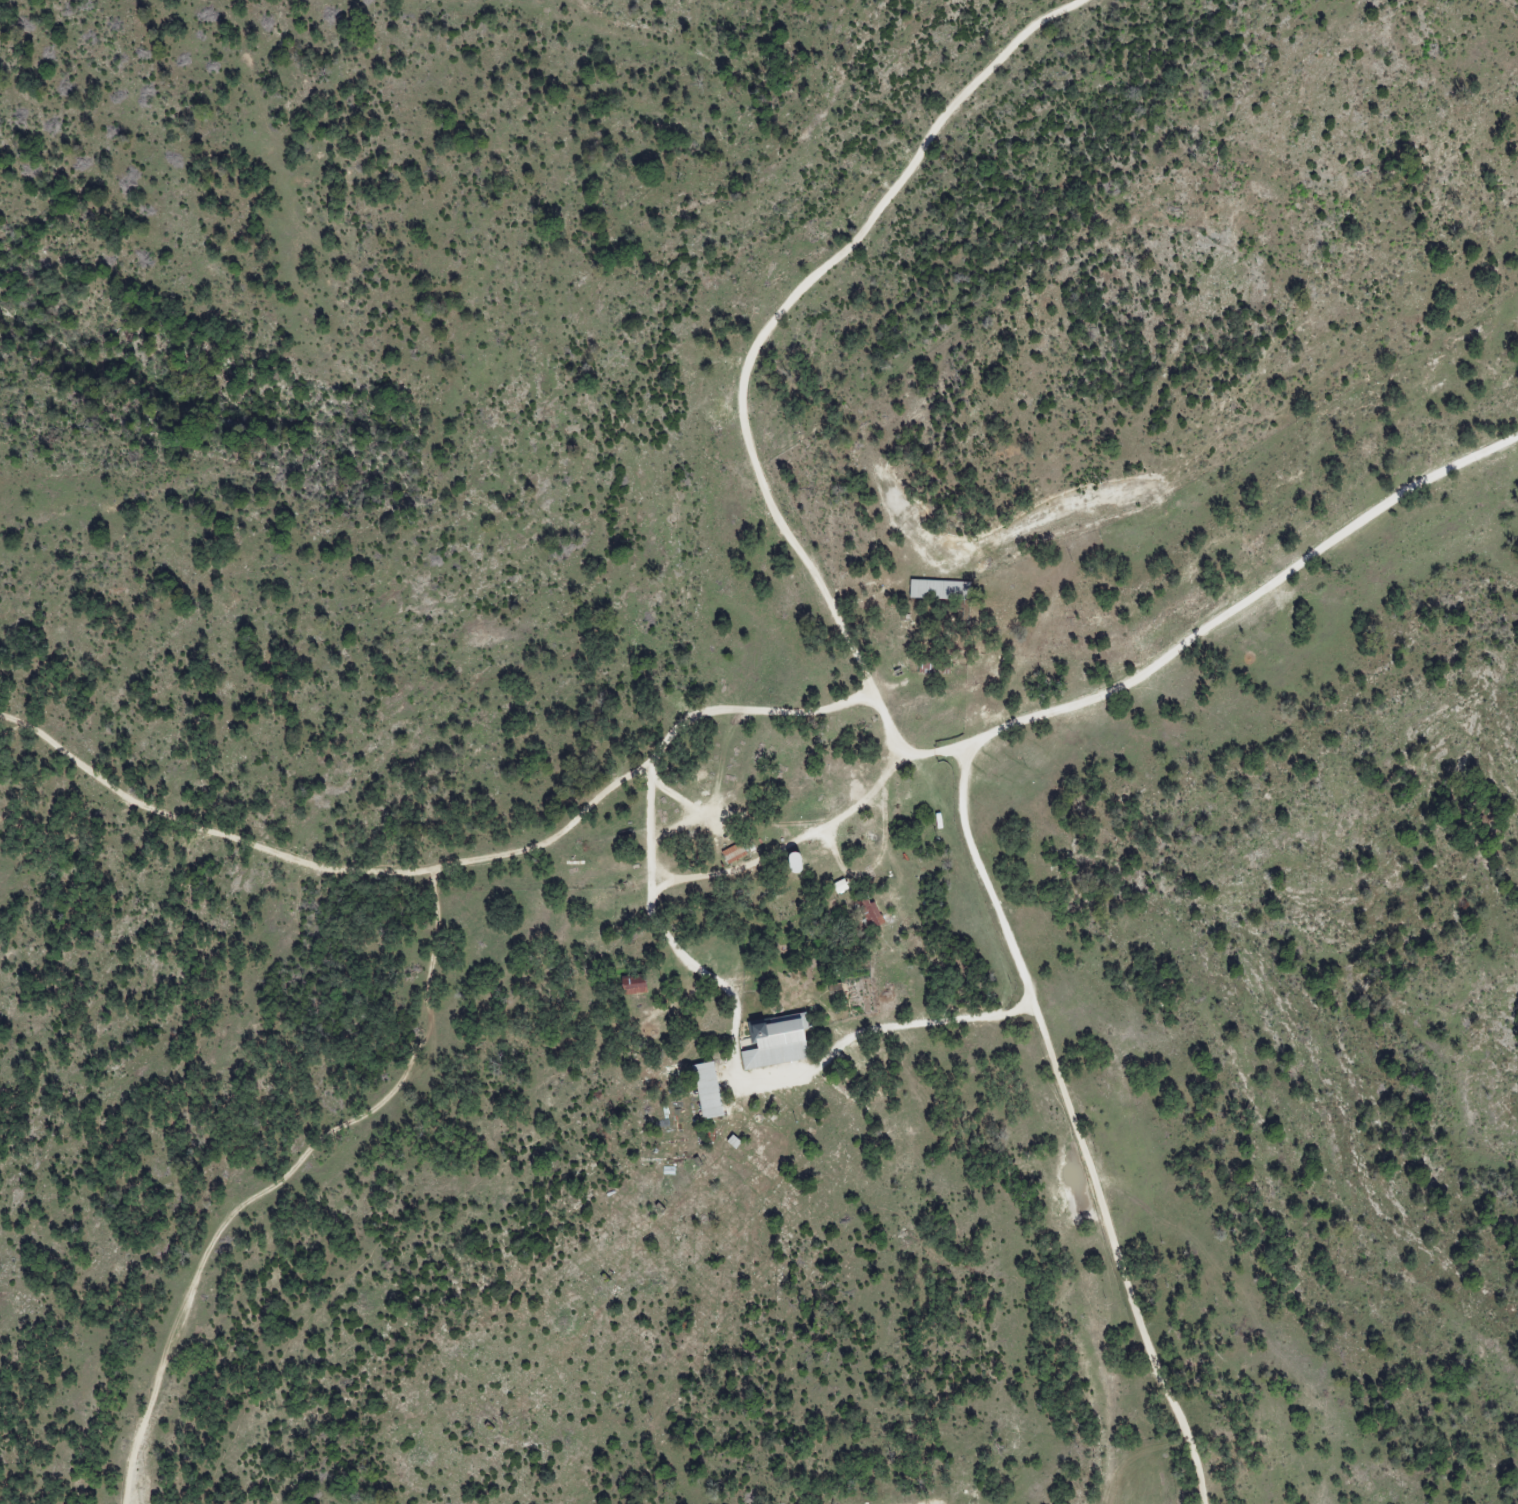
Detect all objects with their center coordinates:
road: (782, 310)
building: (939, 590)
road: (1186, 621)
road: (671, 830)
building: (733, 853)
building: (633, 985)
building: (775, 1042)
building: (707, 1090)
road: (1092, 1125)
road: (278, 1162)

